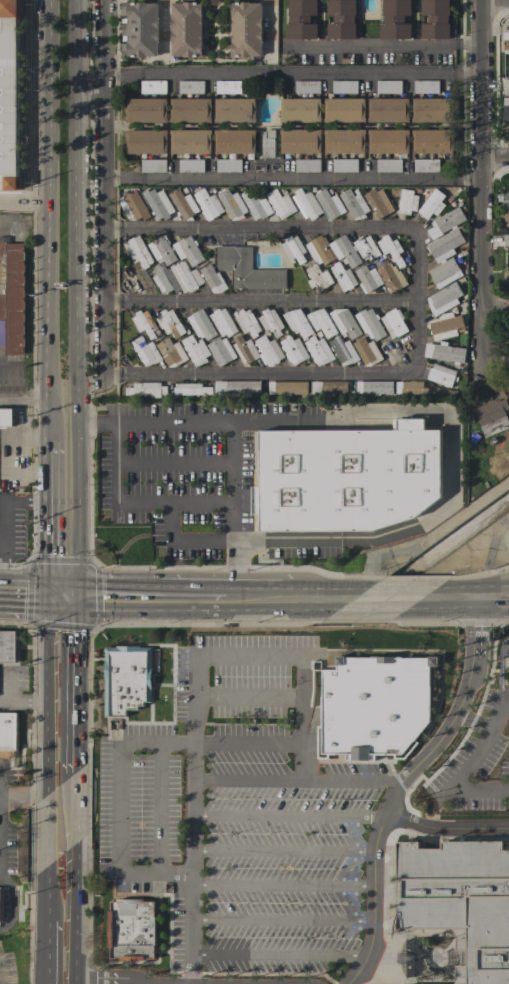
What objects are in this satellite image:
road: (493, 0)
building: (301, 19)
building: (342, 19)
building: (395, 19)
building: (435, 19)
building: (139, 29)
building: (187, 29)
building: (245, 29)
road: (266, 29)
road: (380, 45)
building: (506, 45)
building: (505, 64)
road: (286, 73)
building: (153, 87)
building: (190, 87)
building: (228, 87)
building: (307, 87)
building: (344, 87)
building: (388, 87)
building: (426, 87)
road: (87, 90)
building: (9, 94)
building: (146, 110)
building: (190, 110)
building: (235, 110)
building: (300, 110)
building: (344, 110)
building: (389, 110)
building: (434, 110)
building: (506, 110)
road: (97, 115)
building: (146, 141)
building: (190, 141)
building: (235, 141)
building: (300, 141)
building: (344, 141)
building: (388, 141)
building: (433, 141)
building: (268, 144)
road: (492, 160)
building: (228, 165)
building: (307, 165)
building: (344, 165)
building: (388, 165)
building: (426, 165)
building: (153, 166)
building: (191, 166)
road: (476, 178)
road: (287, 180)
road: (22, 201)
building: (407, 202)
building: (280, 203)
building: (378, 203)
building: (158, 204)
building: (183, 204)
building: (208, 204)
building: (232, 204)
building: (255, 204)
building: (306, 204)
building: (329, 204)
building: (354, 204)
building: (432, 204)
building: (506, 205)
building: (132, 206)
road: (45, 222)
road: (22, 223)
building: (445, 223)
building: (506, 241)
building: (445, 246)
building: (366, 248)
building: (293, 249)
building: (391, 249)
building: (161, 250)
building: (187, 250)
building: (319, 251)
building: (345, 251)
building: (137, 252)
building: (248, 269)
building: (444, 273)
building: (390, 275)
building: (506, 275)
building: (342, 276)
building: (185, 277)
building: (318, 278)
building: (212, 279)
building: (368, 279)
building: (161, 280)
building: (12, 298)
building: (444, 299)
road: (258, 301)
road: (77, 303)
road: (491, 306)
building: (222, 322)
building: (271, 322)
building: (321, 322)
building: (345, 322)
building: (170, 323)
building: (247, 323)
building: (297, 323)
building: (394, 323)
building: (145, 324)
building: (370, 324)
building: (201, 325)
building: (446, 326)
building: (269, 349)
building: (195, 350)
building: (293, 350)
building: (319, 350)
building: (146, 351)
building: (221, 351)
building: (343, 351)
building: (367, 352)
building: (445, 352)
building: (171, 353)
road: (415, 370)
building: (441, 375)
building: (237, 387)
building: (375, 387)
building: (287, 388)
building: (328, 388)
building: (410, 388)
building: (147, 389)
building: (192, 389)
building: (508, 394)
road: (23, 400)
building: (491, 411)
building: (6, 418)
road: (234, 440)
road: (446, 455)
road: (175, 461)
building: (346, 477)
road: (138, 500)
road: (46, 525)
road: (184, 540)
road: (485, 561)
road: (23, 605)
road: (151, 606)
road: (254, 606)
road: (397, 606)
traffic signals: (46, 607)
road: (62, 607)
traffic signals: (79, 607)
building: (8, 647)
road: (200, 653)
building: (126, 679)
road: (10, 688)
road: (78, 689)
road: (22, 703)
building: (375, 705)
road: (498, 713)
road: (472, 721)
building: (8, 734)
road: (45, 765)
road: (247, 780)
road: (456, 780)
road: (397, 790)
road: (22, 800)
road: (117, 806)
road: (287, 815)
road: (444, 827)
road: (282, 849)
road: (74, 878)
road: (281, 885)
building: (460, 901)
building: (1, 906)
road: (281, 919)
building: (132, 930)
road: (45, 954)
road: (277, 954)

